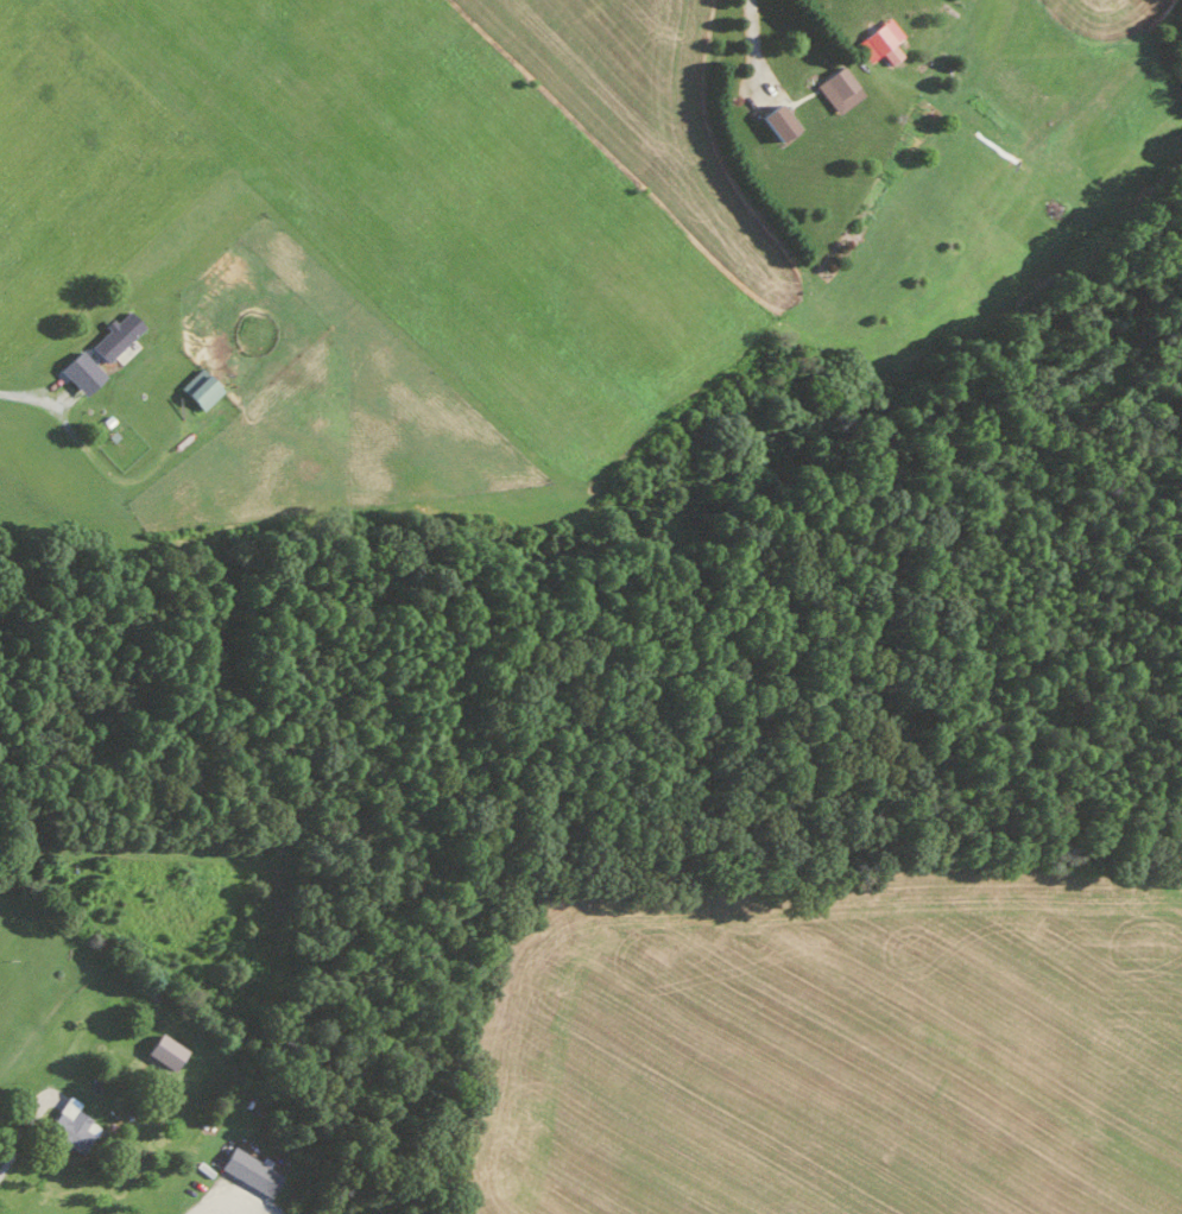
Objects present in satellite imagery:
building: (878, 39)
road: (751, 42)
building: (836, 88)
building: (778, 122)
building: (113, 335)
building: (77, 371)
building: (196, 388)
road: (23, 394)
building: (159, 1051)
building: (69, 1126)
road: (15, 1140)
building: (247, 1169)
road: (202, 1208)

